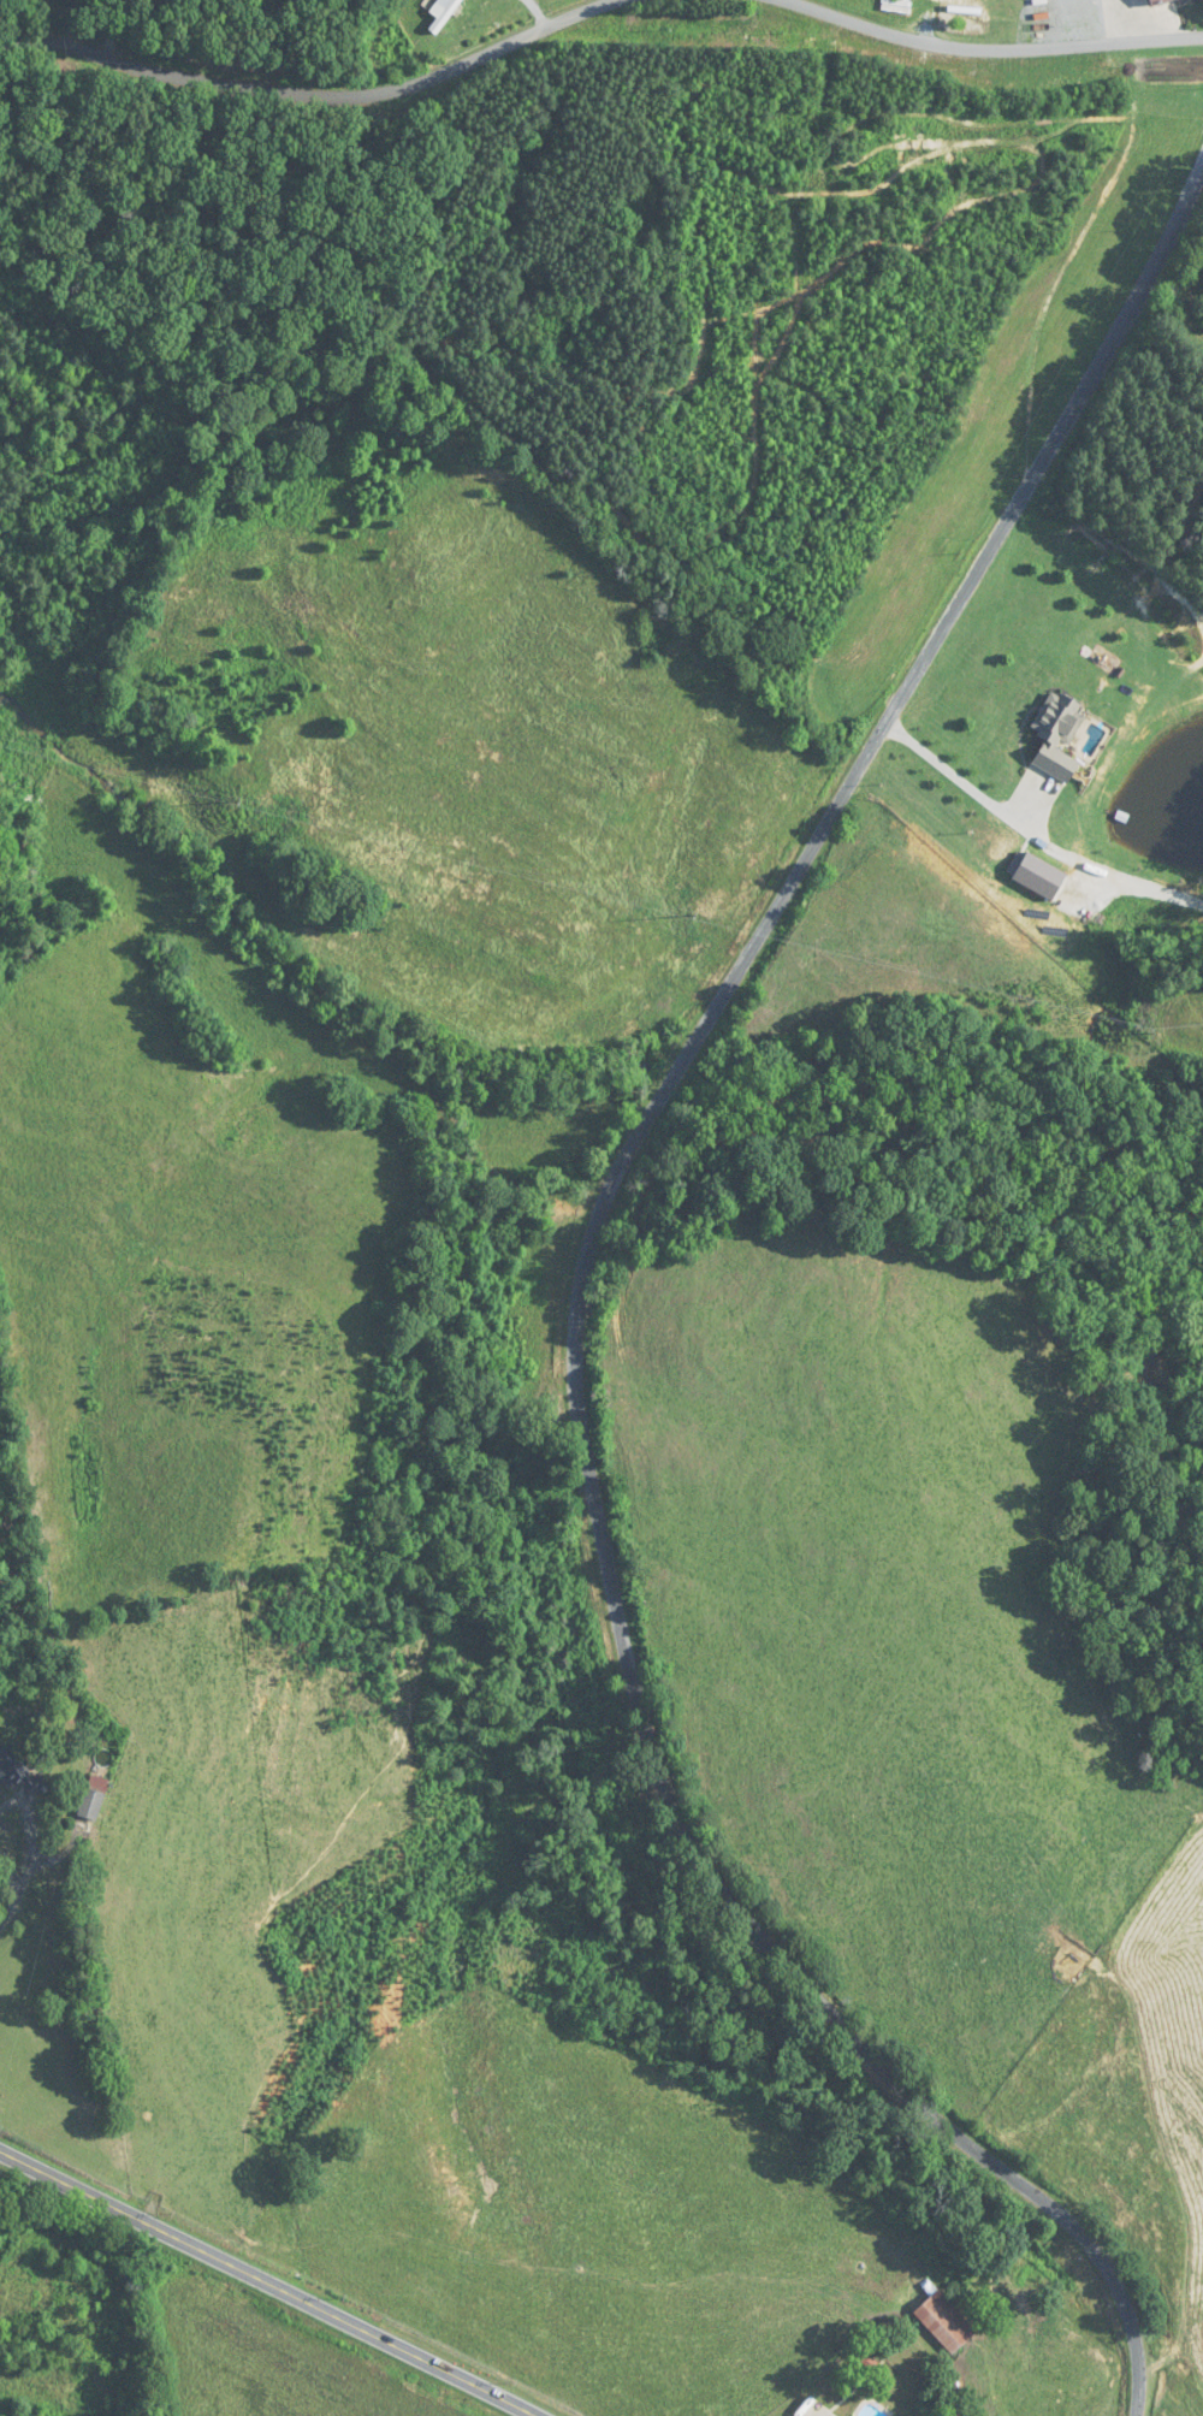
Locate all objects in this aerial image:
building: (1183, 1)
building: (1158, 2)
building: (895, 5)
building: (444, 11)
road: (538, 11)
building: (961, 25)
road: (108, 28)
road: (1000, 46)
road: (309, 91)
building: (1057, 736)
road: (964, 783)
road: (579, 1304)
building: (13, 1769)
building: (90, 1805)
road: (13, 1902)
road: (265, 2284)
building: (944, 2322)

